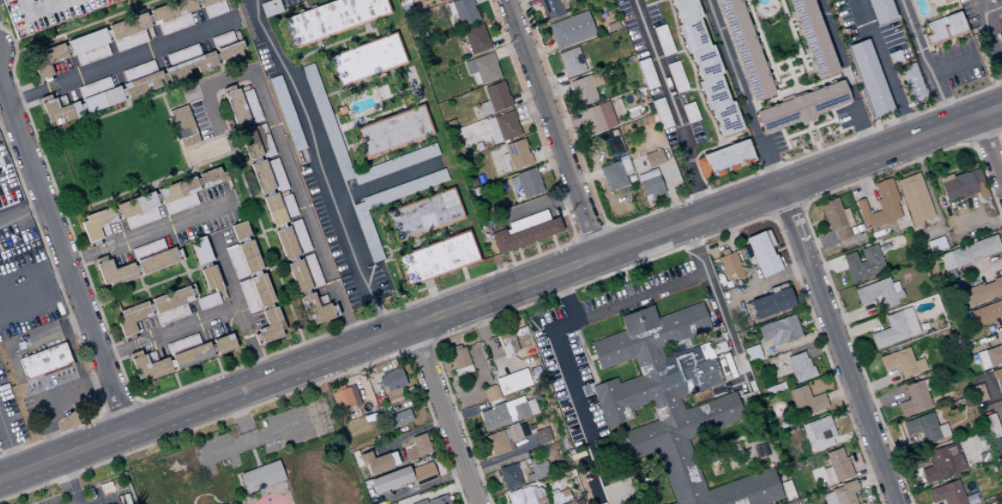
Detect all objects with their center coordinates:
building: (435, 0)
building: (441, 0)
building: (1000, 0)
building: (206, 2)
road: (521, 4)
building: (269, 7)
building: (553, 8)
building: (215, 9)
building: (172, 10)
building: (882, 10)
building: (463, 11)
road: (992, 11)
building: (45, 13)
parking lot: (45, 13)
road: (202, 14)
building: (1001, 17)
building: (330, 19)
building: (174, 24)
road: (85, 25)
road: (152, 25)
building: (612, 25)
building: (128, 26)
road: (366, 27)
building: (946, 28)
building: (571, 30)
building: (1001, 35)
building: (815, 37)
road: (504, 38)
building: (222, 39)
road: (991, 39)
road: (111, 40)
building: (130, 40)
building: (663, 40)
building: (87, 41)
building: (474, 41)
road: (799, 42)
road: (332, 44)
road: (317, 45)
road: (342, 45)
building: (746, 49)
road: (760, 49)
road: (508, 50)
building: (230, 51)
road: (540, 51)
building: (621, 51)
building: (615, 52)
road: (678, 52)
building: (610, 53)
building: (92, 54)
building: (183, 54)
road: (69, 56)
building: (895, 57)
building: (47, 59)
road: (121, 59)
building: (367, 59)
building: (573, 62)
road: (795, 62)
road: (923, 62)
road: (953, 65)
building: (190, 66)
building: (706, 66)
road: (783, 66)
road: (693, 67)
building: (483, 68)
road: (885, 68)
road: (162, 69)
building: (138, 71)
road: (692, 72)
building: (647, 73)
road: (844, 76)
building: (677, 77)
building: (871, 78)
road: (550, 80)
building: (913, 83)
building: (143, 84)
road: (356, 84)
road: (0, 85)
road: (121, 85)
building: (94, 87)
building: (585, 88)
road: (691, 89)
road: (554, 91)
road: (3, 92)
road: (795, 92)
road: (741, 94)
road: (525, 95)
road: (701, 97)
road: (150, 98)
road: (318, 98)
building: (495, 98)
building: (102, 99)
road: (79, 100)
road: (307, 102)
road: (599, 102)
building: (251, 106)
road: (620, 106)
road: (673, 106)
building: (236, 107)
building: (803, 107)
road: (528, 108)
building: (649, 108)
building: (59, 110)
building: (342, 110)
building: (634, 112)
building: (690, 112)
building: (287, 113)
building: (662, 113)
building: (597, 118)
road: (565, 122)
building: (327, 123)
road: (714, 123)
road: (810, 123)
building: (182, 126)
building: (504, 126)
road: (551, 127)
building: (394, 132)
building: (613, 132)
road: (998, 132)
road: (984, 134)
road: (784, 136)
road: (210, 139)
building: (263, 140)
building: (601, 140)
road: (1000, 140)
road: (970, 142)
building: (249, 143)
building: (611, 147)
road: (780, 147)
road: (988, 150)
road: (546, 152)
road: (234, 153)
road: (182, 154)
building: (518, 154)
road: (696, 154)
building: (654, 158)
building: (725, 159)
building: (395, 163)
road: (322, 164)
building: (2, 165)
road: (550, 165)
road: (289, 170)
building: (276, 175)
building: (615, 175)
building: (261, 176)
road: (585, 176)
road: (16, 177)
building: (212, 177)
building: (629, 179)
road: (388, 180)
road: (148, 182)
building: (529, 183)
building: (650, 183)
building: (980, 183)
road: (864, 185)
building: (958, 185)
road: (200, 187)
building: (404, 189)
building: (178, 190)
road: (669, 195)
road: (254, 196)
road: (692, 197)
road: (929, 197)
building: (7, 199)
building: (915, 199)
building: (180, 204)
building: (137, 205)
road: (536, 205)
building: (881, 205)
building: (288, 206)
building: (274, 209)
building: (424, 215)
road: (23, 217)
building: (847, 217)
building: (141, 218)
building: (835, 218)
building: (529, 221)
road: (816, 222)
building: (97, 225)
road: (976, 225)
road: (607, 226)
road: (731, 229)
building: (240, 230)
road: (266, 230)
road: (150, 231)
building: (366, 232)
road: (811, 234)
building: (522, 235)
road: (591, 235)
road: (255, 236)
building: (299, 236)
road: (573, 240)
road: (418, 241)
road: (553, 242)
building: (286, 243)
building: (936, 245)
road: (536, 248)
road: (779, 248)
road: (830, 248)
building: (148, 249)
road: (614, 249)
building: (882, 250)
building: (201, 251)
road: (665, 252)
building: (970, 253)
road: (269, 254)
road: (519, 254)
building: (763, 254)
building: (249, 257)
building: (437, 258)
road: (510, 258)
building: (850, 259)
building: (157, 261)
road: (384, 261)
road: (583, 261)
building: (235, 262)
building: (887, 263)
building: (729, 264)
building: (866, 264)
road: (67, 266)
road: (982, 269)
building: (311, 270)
road: (185, 271)
building: (113, 272)
road: (463, 275)
building: (299, 276)
building: (734, 276)
building: (211, 278)
road: (773, 281)
road: (158, 282)
building: (735, 283)
road: (35, 286)
building: (895, 286)
road: (143, 287)
road: (428, 288)
building: (262, 290)
road: (500, 291)
road: (412, 292)
building: (983, 292)
building: (879, 293)
building: (248, 296)
road: (564, 296)
building: (172, 299)
building: (207, 301)
building: (772, 303)
road: (236, 306)
road: (717, 306)
building: (317, 308)
building: (986, 313)
building: (171, 314)
road: (850, 316)
building: (132, 318)
road: (72, 320)
road: (806, 322)
road: (1000, 323)
building: (271, 325)
building: (896, 328)
road: (854, 329)
building: (780, 330)
road: (169, 332)
road: (35, 337)
road: (556, 340)
road: (434, 341)
road: (796, 341)
building: (182, 343)
building: (224, 343)
building: (507, 343)
road: (418, 344)
road: (69, 345)
road: (819, 345)
road: (836, 346)
building: (718, 347)
road: (285, 349)
road: (489, 349)
road: (404, 353)
building: (753, 353)
building: (993, 354)
building: (192, 355)
road: (587, 356)
building: (459, 357)
road: (591, 357)
building: (982, 360)
building: (44, 361)
building: (899, 362)
building: (919, 364)
building: (148, 365)
road: (218, 365)
building: (800, 367)
building: (464, 369)
building: (997, 375)
building: (393, 379)
road: (354, 380)
road: (176, 381)
building: (381, 381)
building: (513, 381)
road: (987, 381)
road: (474, 382)
road: (874, 383)
building: (925, 384)
building: (339, 387)
building: (490, 392)
building: (978, 392)
road: (839, 394)
road: (49, 395)
building: (392, 395)
road: (277, 397)
building: (342, 398)
building: (531, 398)
building: (913, 398)
road: (414, 399)
building: (805, 400)
road: (881, 400)
building: (72, 401)
road: (135, 402)
building: (673, 403)
road: (995, 406)
road: (120, 410)
building: (520, 410)
building: (384, 411)
road: (104, 413)
road: (464, 413)
road: (443, 414)
building: (494, 416)
road: (239, 417)
building: (400, 418)
road: (141, 425)
building: (921, 427)
building: (941, 430)
building: (513, 433)
building: (819, 433)
building: (993, 433)
road: (408, 434)
road: (850, 434)
road: (901, 434)
road: (114, 435)
building: (542, 435)
building: (979, 435)
road: (263, 437)
building: (497, 443)
building: (418, 446)
road: (898, 447)
building: (951, 447)
road: (8, 448)
road: (746, 448)
road: (612, 451)
road: (737, 451)
building: (759, 451)
road: (732, 454)
road: (500, 456)
road: (727, 456)
building: (835, 456)
building: (956, 461)
building: (375, 462)
building: (936, 464)
road: (1000, 464)
road: (904, 465)
road: (496, 466)
building: (842, 470)
building: (538, 471)
building: (423, 473)
building: (829, 475)
building: (262, 476)
building: (509, 476)
road: (71, 479)
building: (391, 479)
road: (870, 480)
road: (61, 481)
road: (425, 485)
building: (533, 486)
road: (240, 488)
building: (786, 491)
road: (269, 492)
building: (845, 492)
building: (946, 493)
road: (432, 494)
building: (526, 495)
building: (553, 496)
building: (564, 496)
building: (515, 497)
building: (538, 497)
road: (215, 499)
building: (968, 499)
building: (439, 500)
road: (108, 501)
building: (578, 501)
building: (420, 502)
building: (792, 503)
road: (937, 503)

